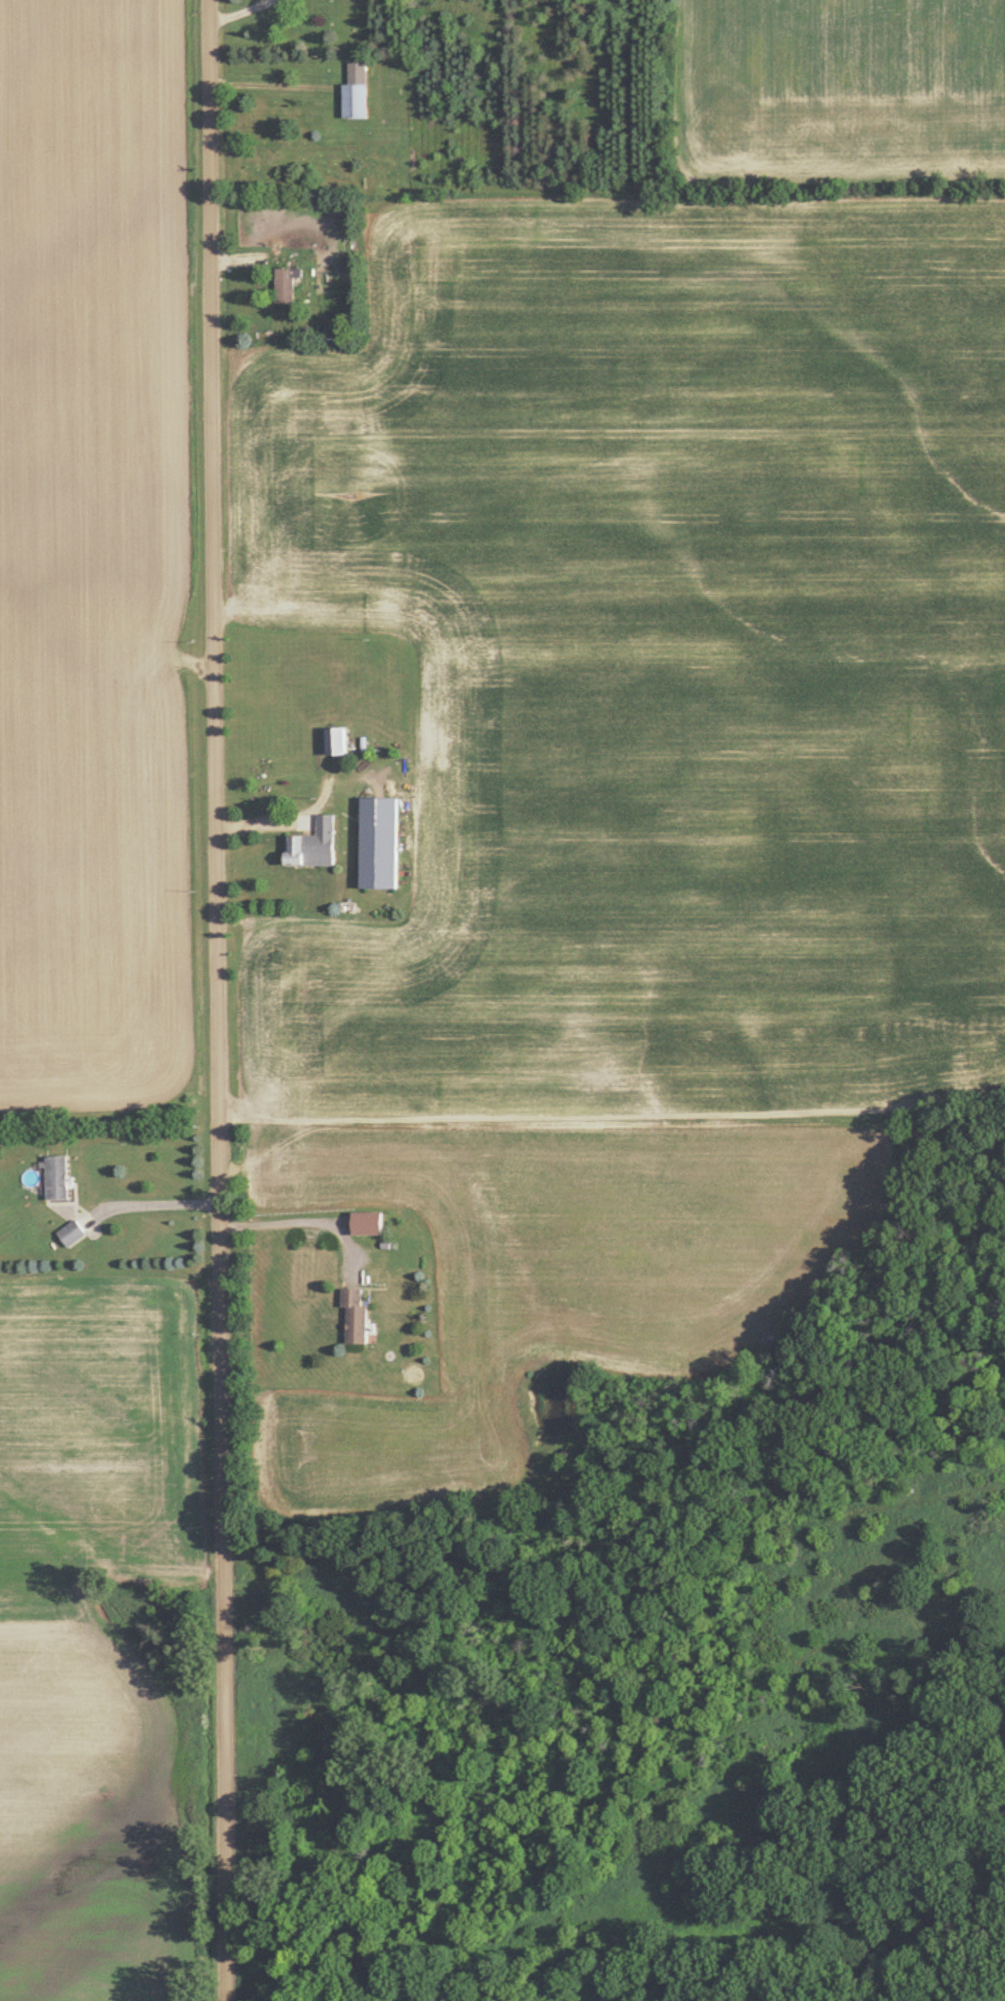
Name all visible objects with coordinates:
road: (237, 14)
building: (357, 93)
building: (289, 287)
building: (343, 305)
building: (339, 742)
building: (316, 846)
building: (382, 855)
road: (217, 1000)
building: (60, 1179)
road: (153, 1205)
road: (307, 1223)
building: (73, 1235)
building: (358, 1317)

